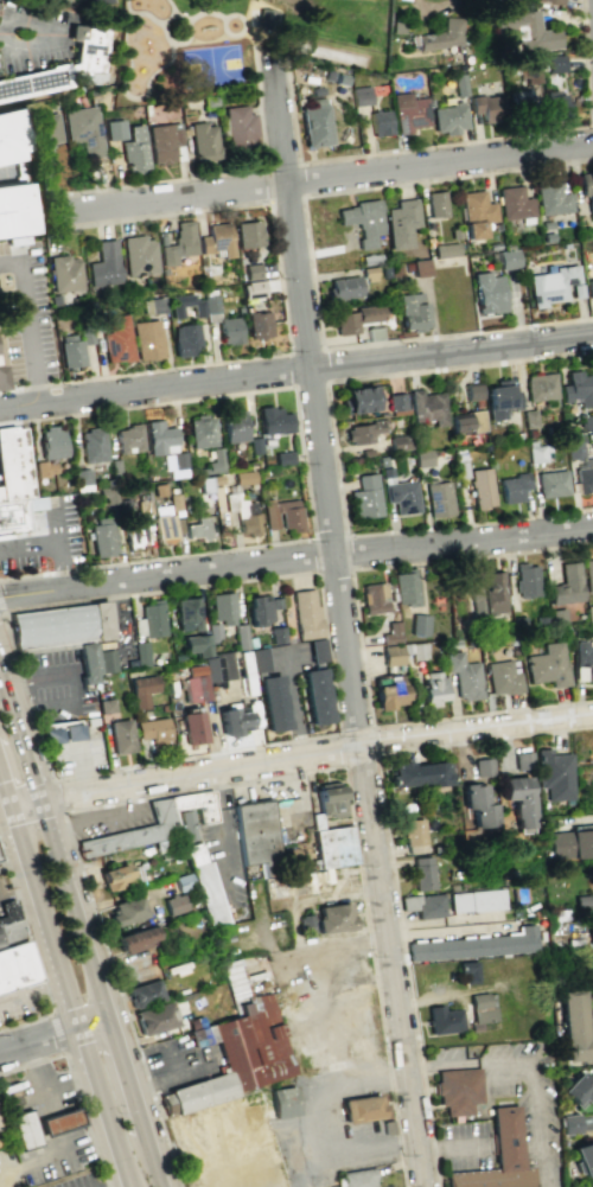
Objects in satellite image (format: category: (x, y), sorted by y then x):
building: (94, 1)
building: (550, 1)
road: (126, 7)
road: (174, 11)
road: (167, 17)
building: (263, 18)
road: (253, 20)
road: (155, 23)
building: (528, 30)
road: (56, 31)
road: (0, 32)
parking lot: (33, 36)
road: (205, 42)
park: (244, 44)
road: (170, 52)
park: (330, 53)
building: (555, 63)
building: (63, 65)
park: (210, 66)
building: (529, 70)
building: (361, 95)
building: (521, 100)
building: (556, 106)
building: (487, 107)
building: (408, 113)
building: (447, 119)
building: (380, 122)
building: (314, 123)
road: (592, 125)
building: (238, 126)
building: (85, 129)
building: (115, 129)
building: (9, 135)
building: (45, 135)
building: (162, 142)
building: (203, 142)
road: (446, 143)
building: (134, 149)
road: (224, 174)
road: (326, 180)
building: (587, 187)
road: (301, 196)
building: (551, 198)
building: (514, 203)
building: (435, 204)
building: (13, 212)
building: (476, 213)
building: (363, 221)
building: (401, 223)
building: (248, 234)
building: (215, 240)
building: (179, 243)
building: (445, 249)
building: (140, 255)
building: (508, 259)
road: (310, 262)
building: (104, 264)
building: (420, 267)
building: (253, 272)
building: (65, 273)
building: (551, 285)
building: (343, 287)
building: (253, 288)
building: (589, 288)
building: (487, 293)
building: (153, 306)
building: (197, 311)
building: (412, 311)
parking lot: (25, 312)
road: (283, 313)
building: (355, 319)
road: (27, 321)
building: (259, 324)
building: (229, 330)
building: (374, 333)
building: (87, 337)
building: (147, 339)
building: (185, 339)
building: (117, 340)
road: (296, 371)
building: (1, 378)
road: (324, 381)
building: (541, 387)
building: (578, 388)
building: (472, 391)
building: (500, 398)
building: (357, 400)
building: (396, 403)
building: (427, 407)
building: (274, 420)
building: (466, 422)
building: (234, 426)
building: (200, 432)
building: (362, 432)
building: (129, 439)
building: (52, 442)
building: (93, 445)
road: (333, 447)
building: (574, 447)
building: (166, 448)
building: (537, 453)
building: (216, 460)
building: (14, 467)
building: (45, 468)
road: (304, 472)
building: (585, 476)
building: (244, 477)
building: (82, 479)
building: (553, 483)
building: (482, 487)
building: (512, 487)
building: (402, 496)
building: (365, 497)
building: (439, 497)
building: (243, 513)
building: (282, 515)
building: (12, 519)
building: (165, 528)
road: (56, 529)
building: (198, 529)
building: (139, 530)
building: (102, 537)
parking lot: (44, 540)
road: (50, 545)
road: (541, 549)
road: (295, 559)
road: (332, 569)
building: (588, 574)
building: (527, 580)
building: (567, 585)
building: (406, 587)
road: (152, 591)
building: (486, 594)
building: (374, 598)
building: (223, 607)
building: (259, 610)
road: (1, 612)
building: (305, 613)
building: (187, 614)
building: (419, 624)
road: (343, 630)
building: (64, 633)
building: (202, 640)
building: (391, 644)
building: (317, 650)
building: (416, 651)
building: (141, 653)
building: (259, 659)
building: (106, 660)
building: (584, 662)
building: (548, 665)
road: (53, 675)
building: (209, 675)
building: (464, 676)
building: (504, 677)
road: (8, 688)
building: (431, 688)
parking lot: (57, 689)
road: (365, 689)
building: (142, 690)
building: (389, 693)
building: (315, 696)
building: (273, 702)
road: (45, 706)
building: (234, 721)
building: (193, 727)
road: (477, 728)
building: (154, 730)
building: (59, 734)
building: (121, 736)
road: (370, 754)
road: (31, 759)
parking lot: (78, 759)
building: (522, 760)
building: (483, 767)
road: (81, 770)
road: (203, 772)
building: (417, 773)
building: (554, 774)
road: (219, 785)
road: (1, 787)
road: (5, 792)
road: (58, 794)
building: (329, 799)
building: (519, 800)
road: (27, 805)
building: (197, 805)
building: (478, 805)
road: (107, 815)
parking lot: (113, 821)
building: (134, 835)
building: (413, 835)
building: (257, 836)
building: (570, 843)
building: (332, 844)
parking lot: (227, 859)
road: (391, 862)
road: (13, 867)
building: (421, 873)
building: (120, 880)
building: (205, 885)
parking lot: (5, 895)
road: (25, 899)
building: (476, 900)
building: (174, 904)
building: (422, 905)
road: (7, 906)
road: (78, 907)
road: (0, 908)
building: (127, 911)
parking lot: (0, 913)
road: (43, 917)
road: (465, 918)
building: (334, 919)
road: (415, 923)
building: (135, 939)
building: (474, 945)
building: (12, 950)
road: (33, 955)
building: (467, 971)
road: (31, 993)
parking lot: (19, 1006)
building: (148, 1008)
building: (482, 1009)
road: (94, 1020)
building: (442, 1020)
building: (575, 1026)
road: (57, 1032)
road: (38, 1038)
building: (255, 1044)
parking lot: (178, 1061)
road: (531, 1062)
road: (36, 1073)
road: (168, 1079)
road: (75, 1086)
building: (576, 1091)
building: (458, 1092)
parking lot: (39, 1093)
building: (198, 1093)
road: (135, 1095)
road: (97, 1097)
building: (253, 1102)
building: (282, 1103)
building: (363, 1109)
building: (60, 1123)
building: (569, 1123)
building: (24, 1130)
road: (591, 1131)
road: (448, 1148)
road: (55, 1155)
building: (498, 1157)
building: (584, 1157)
parking lot: (55, 1159)
parking lot: (9, 1169)
road: (123, 1178)
building: (358, 1178)
parking lot: (81, 1180)
parking lot: (81, 1181)
road: (162, 1181)
building: (592, 1186)

